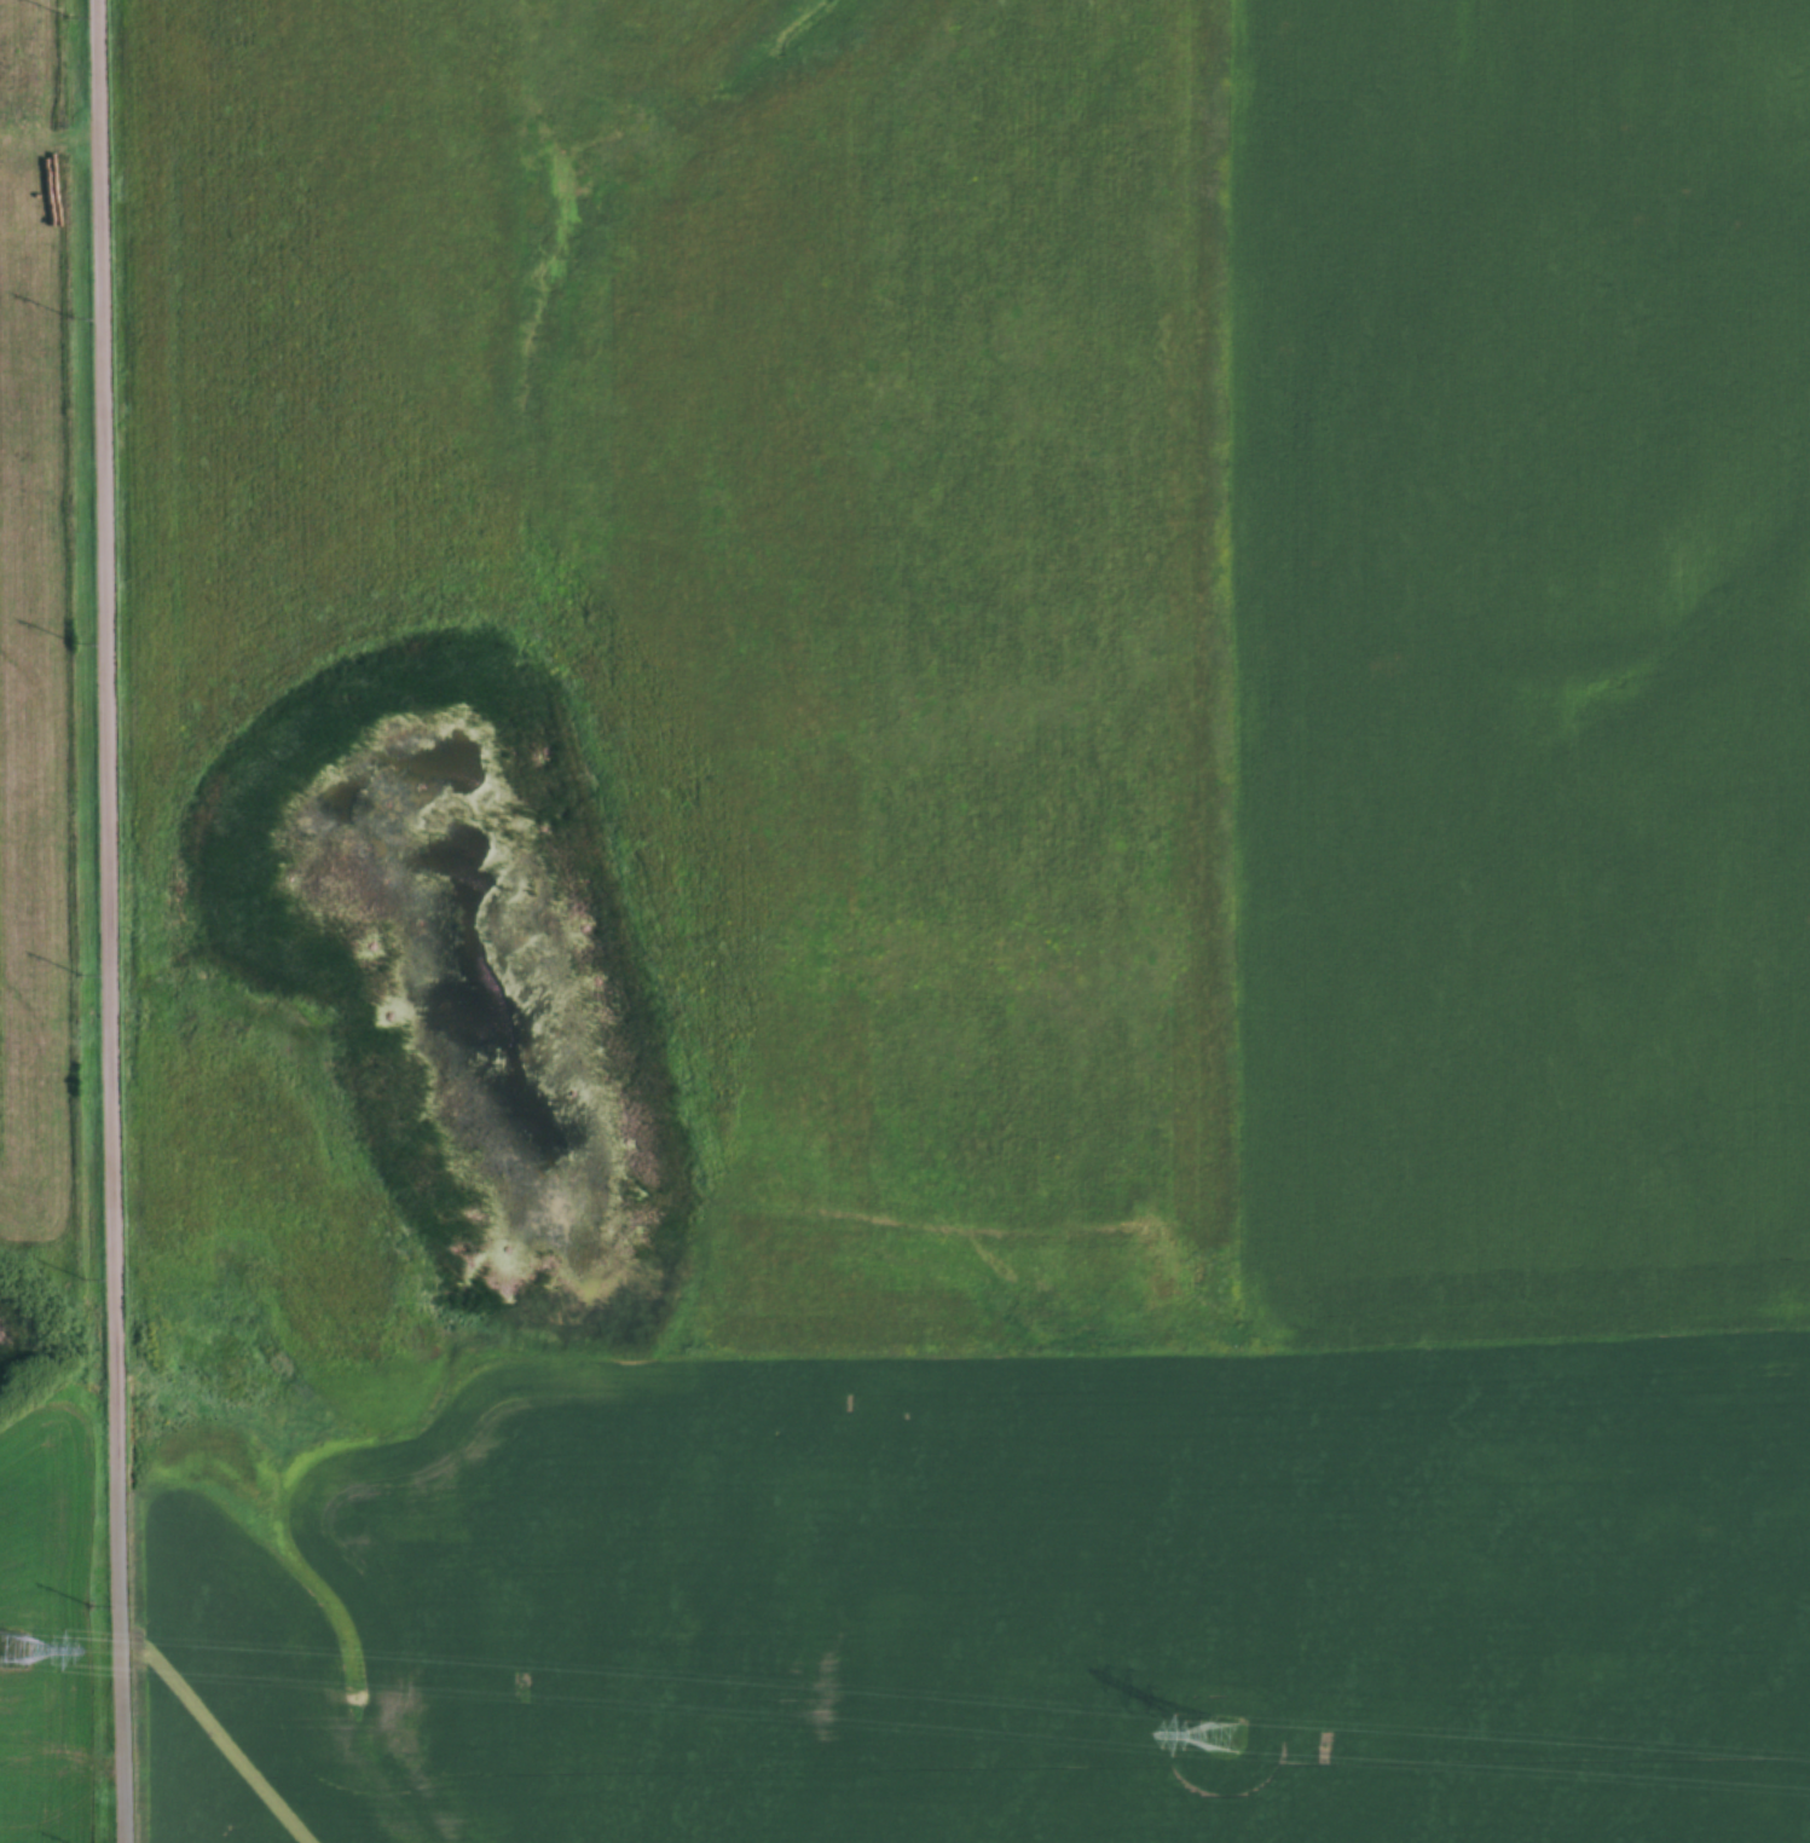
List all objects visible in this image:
road: (109, 921)
power tower: (4, 1650)
power tower: (1216, 1740)

